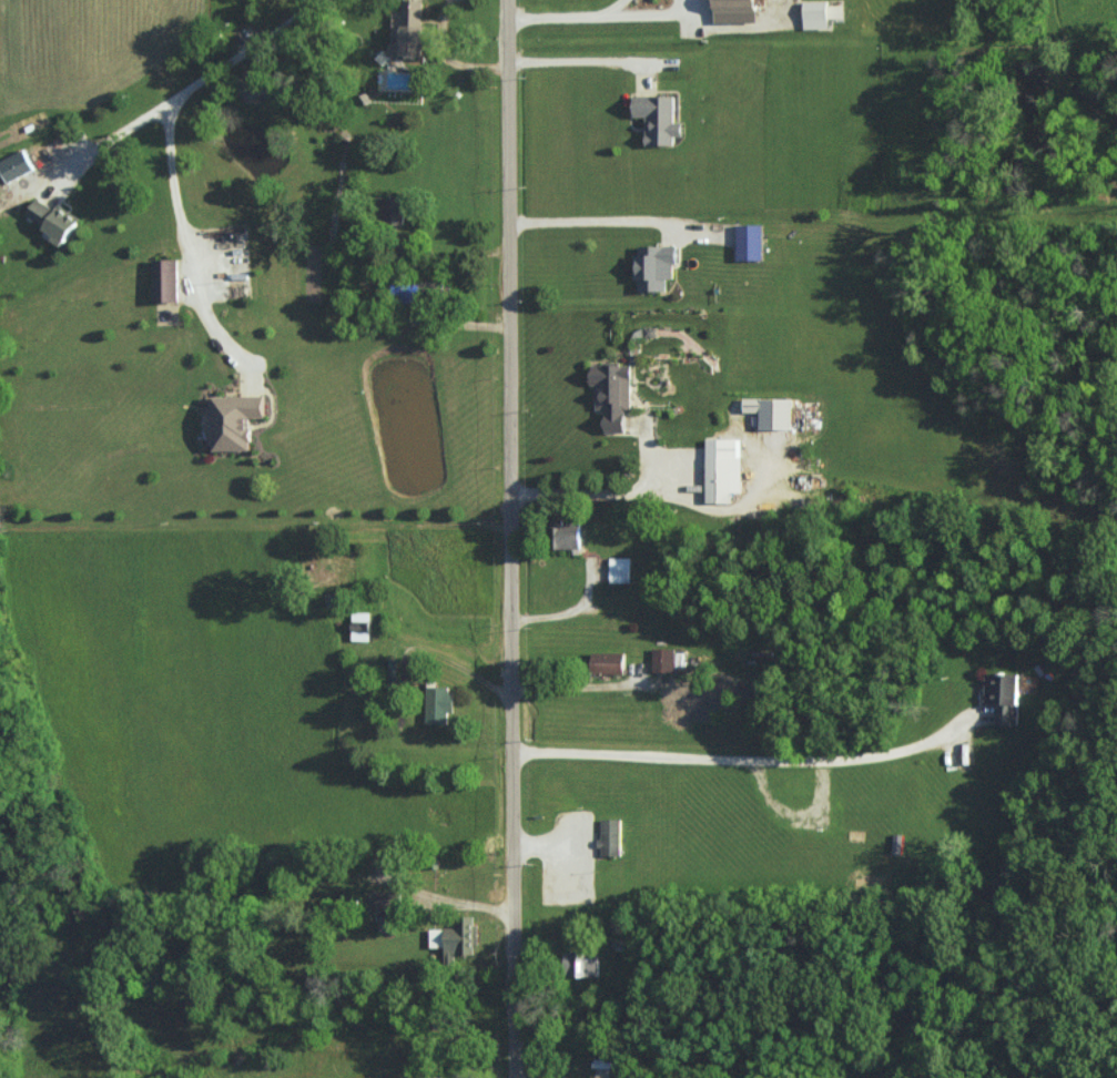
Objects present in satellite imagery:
road: (612, 7)
building: (737, 11)
road: (649, 13)
building: (815, 14)
road: (552, 16)
building: (413, 28)
road: (576, 62)
road: (207, 71)
building: (658, 119)
building: (14, 165)
building: (392, 210)
building: (53, 221)
road: (601, 222)
building: (750, 242)
road: (180, 243)
building: (654, 266)
building: (165, 281)
building: (613, 394)
building: (771, 411)
building: (235, 420)
building: (722, 469)
road: (510, 478)
road: (650, 492)
building: (567, 536)
building: (620, 569)
building: (361, 627)
building: (663, 659)
building: (608, 662)
building: (1004, 695)
building: (439, 704)
road: (752, 760)
building: (610, 836)
building: (386, 901)
building: (456, 937)
building: (581, 963)
road: (515, 978)
road: (515, 1038)

